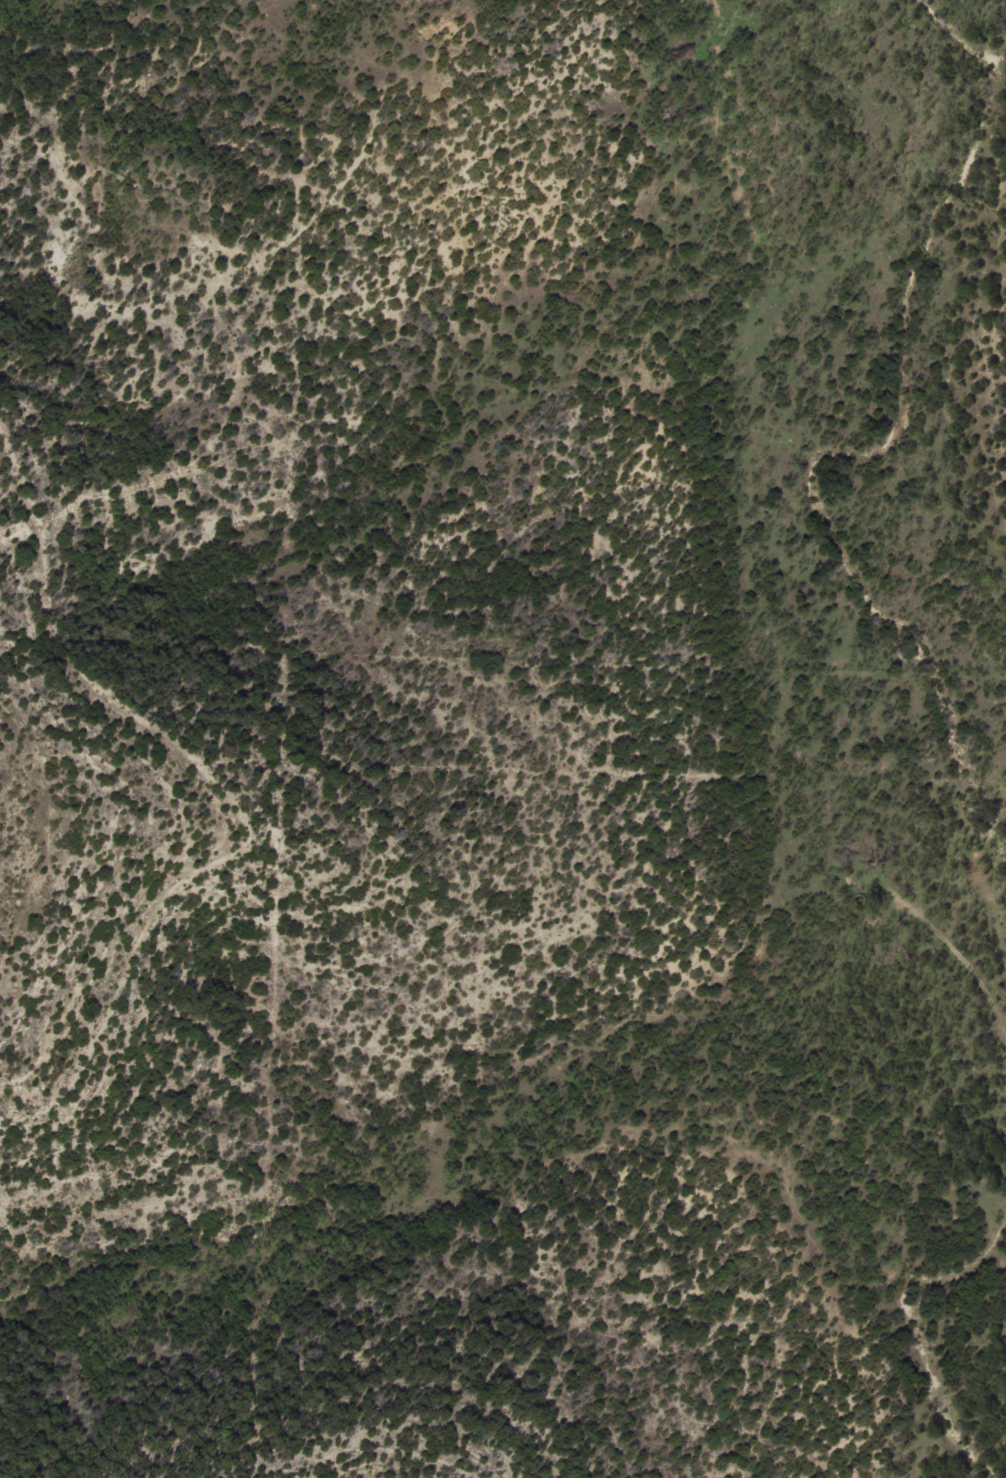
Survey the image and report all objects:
road: (789, 549)

